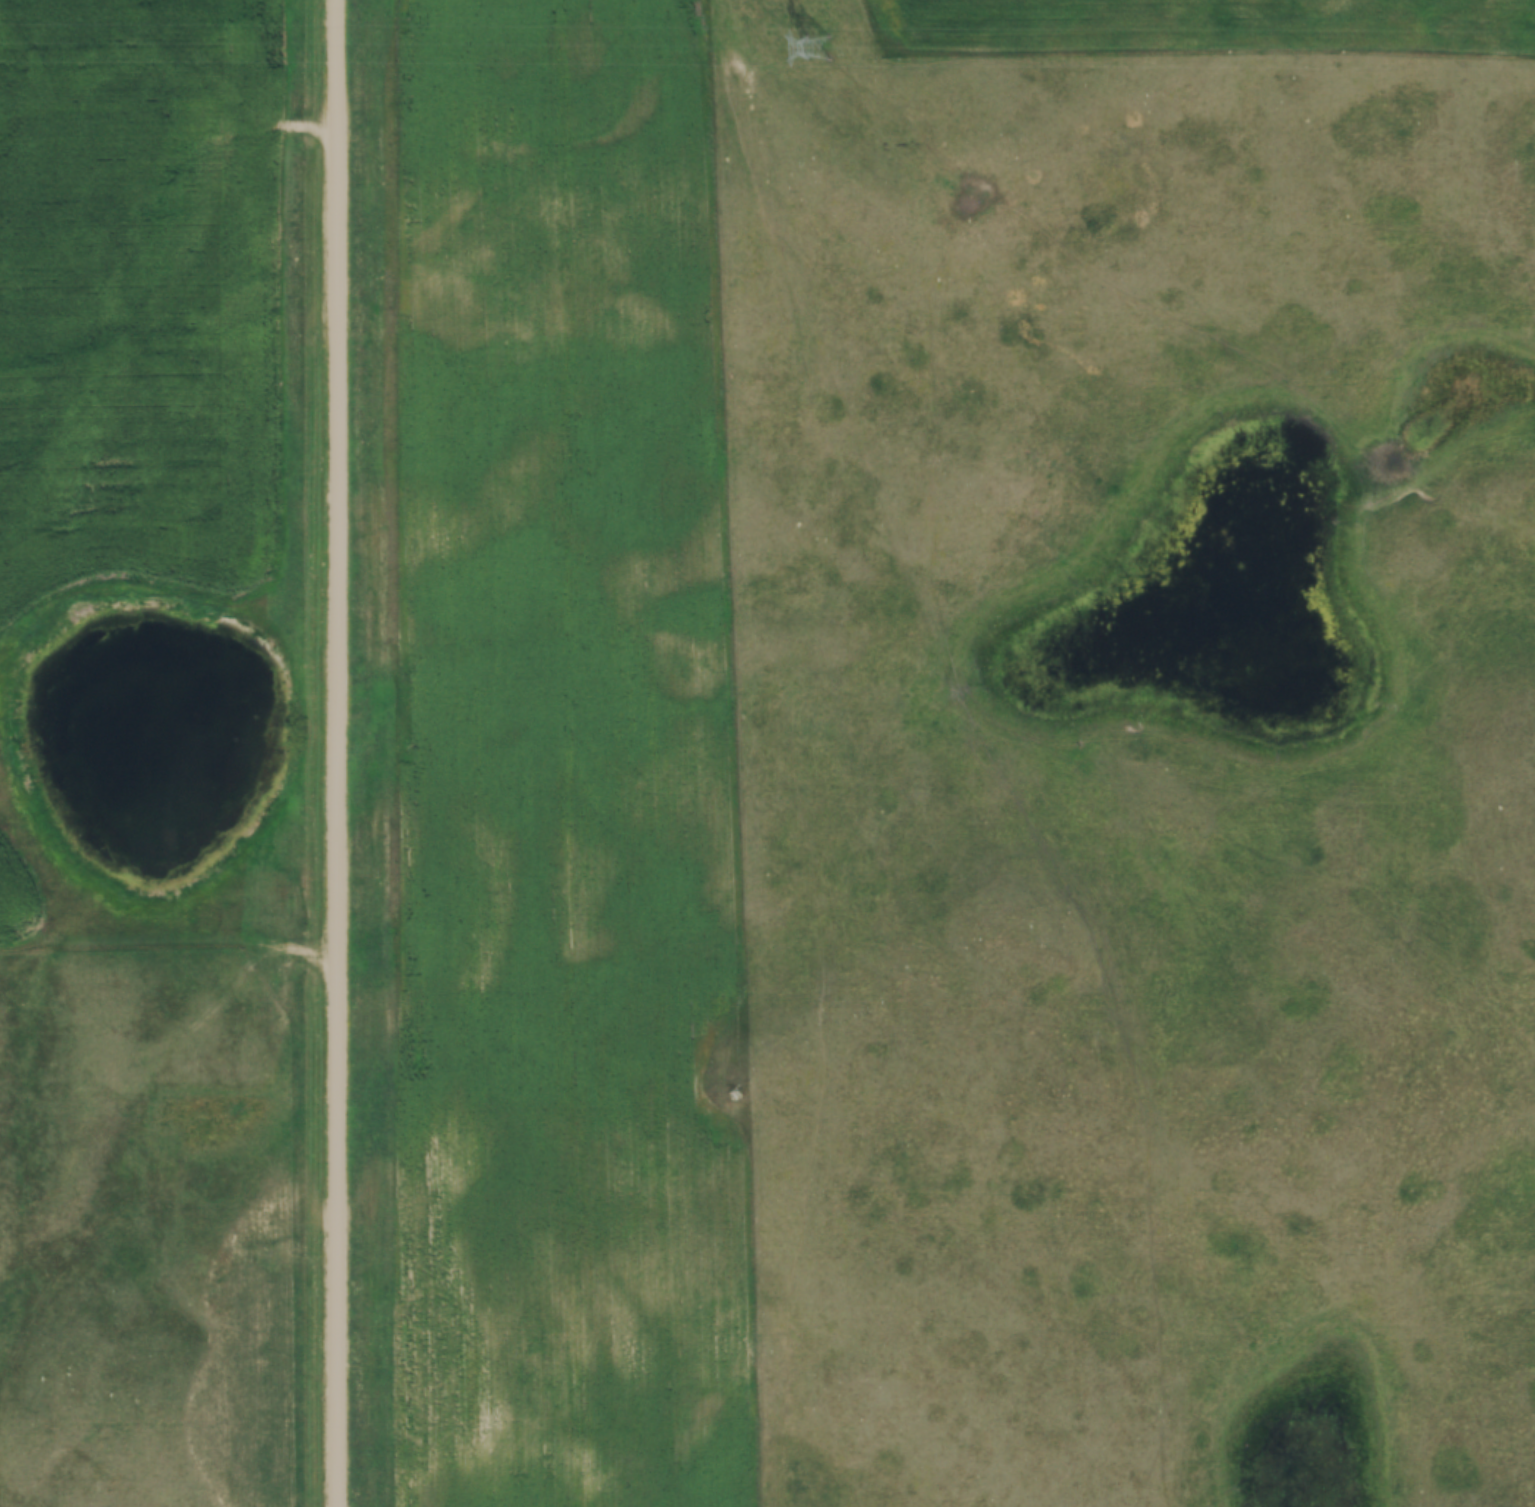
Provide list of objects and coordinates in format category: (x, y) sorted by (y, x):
power tower: (825, 47)
road: (339, 753)

